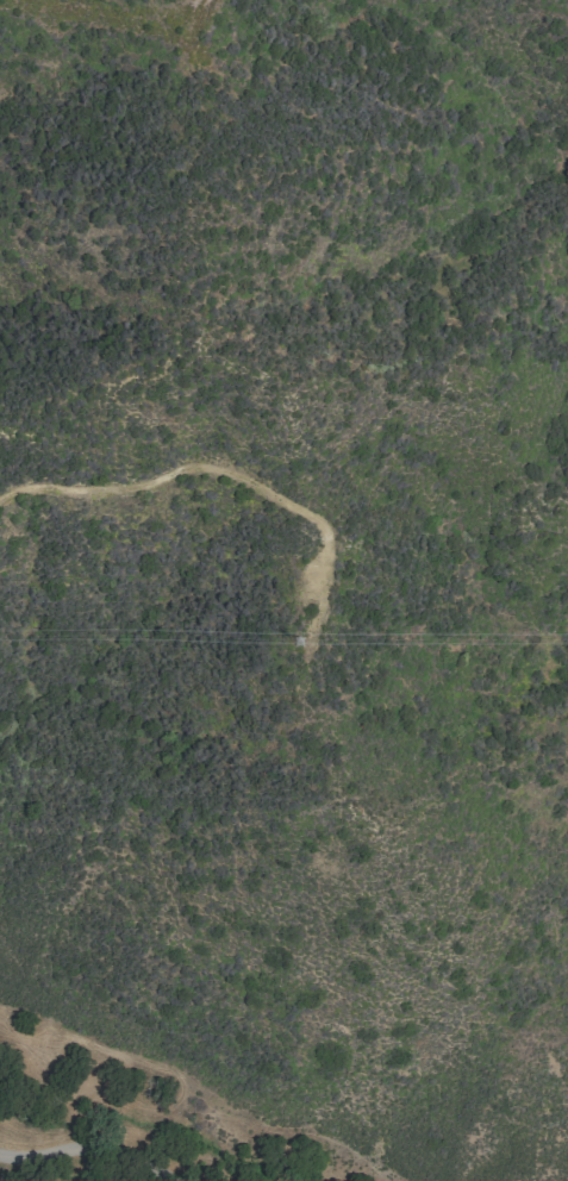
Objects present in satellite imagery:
road: (193, 29)
road: (216, 465)
power tower: (295, 645)
road: (89, 1151)

